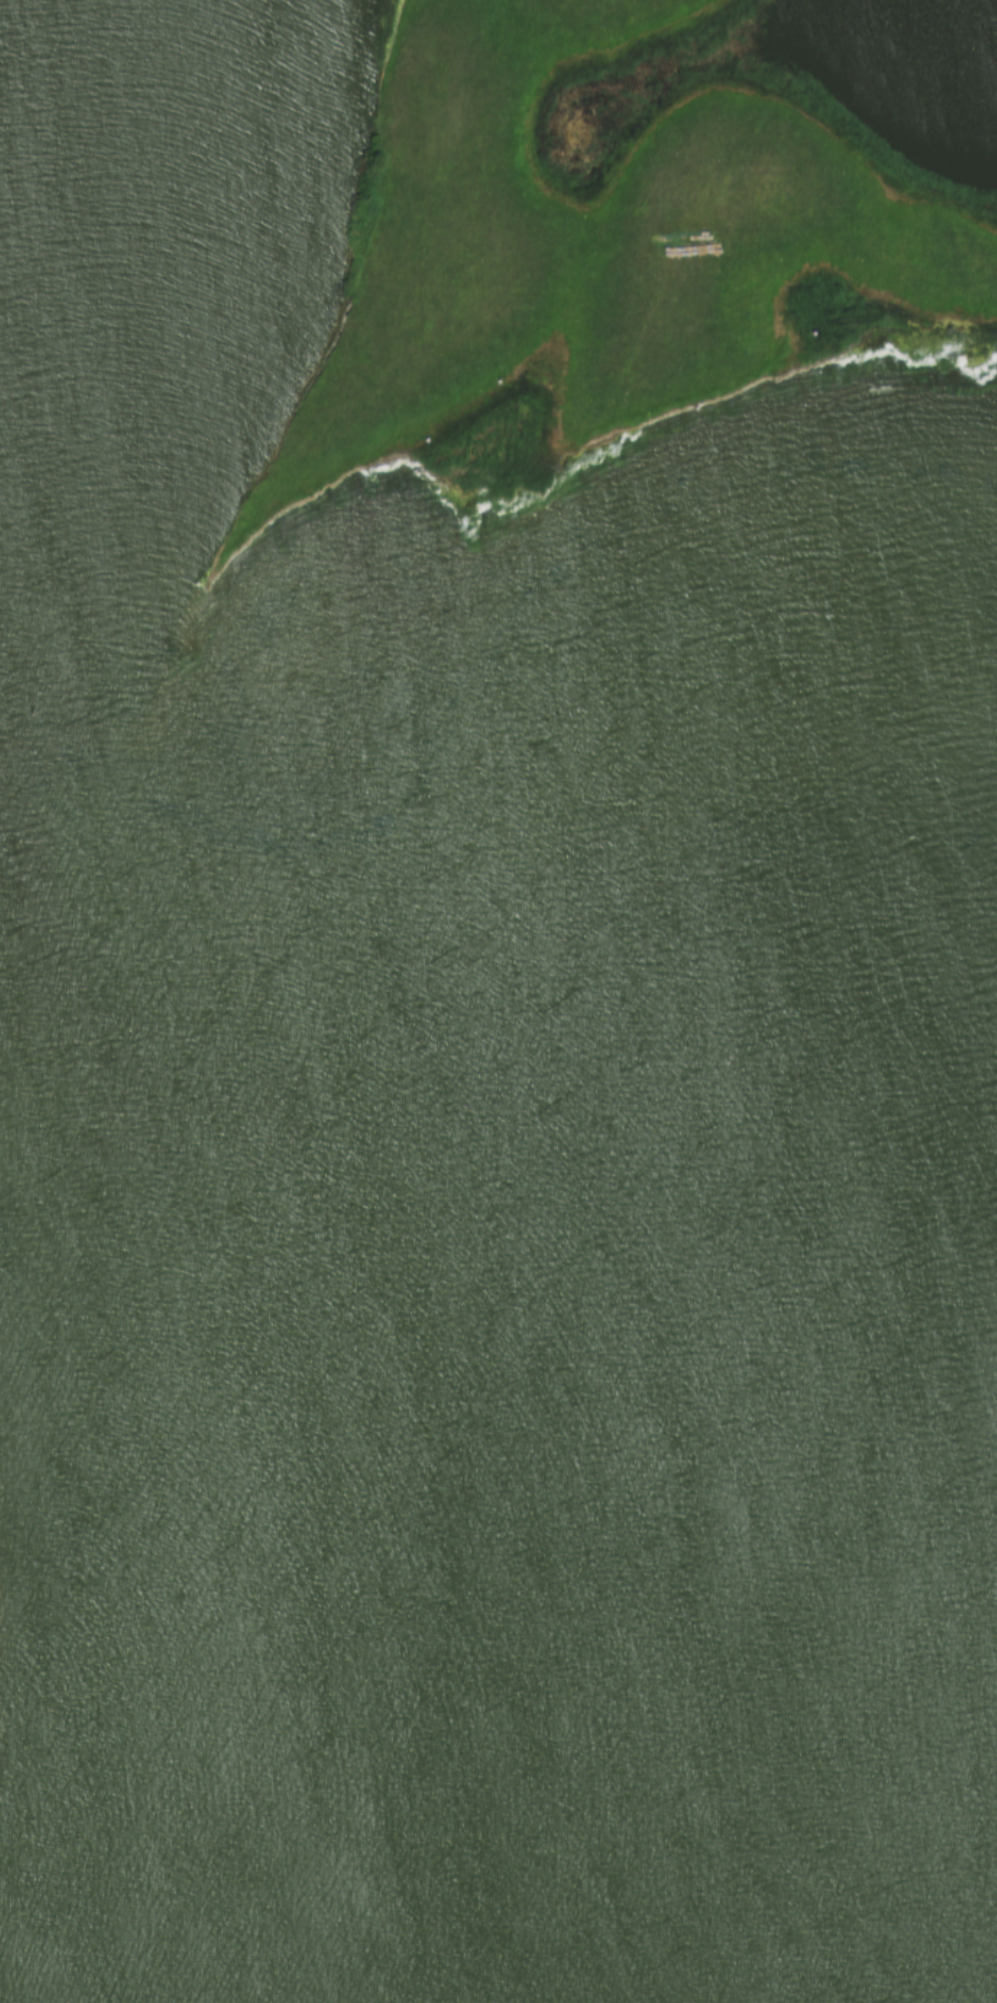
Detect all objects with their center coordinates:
road: (696, 264)
road: (617, 389)

